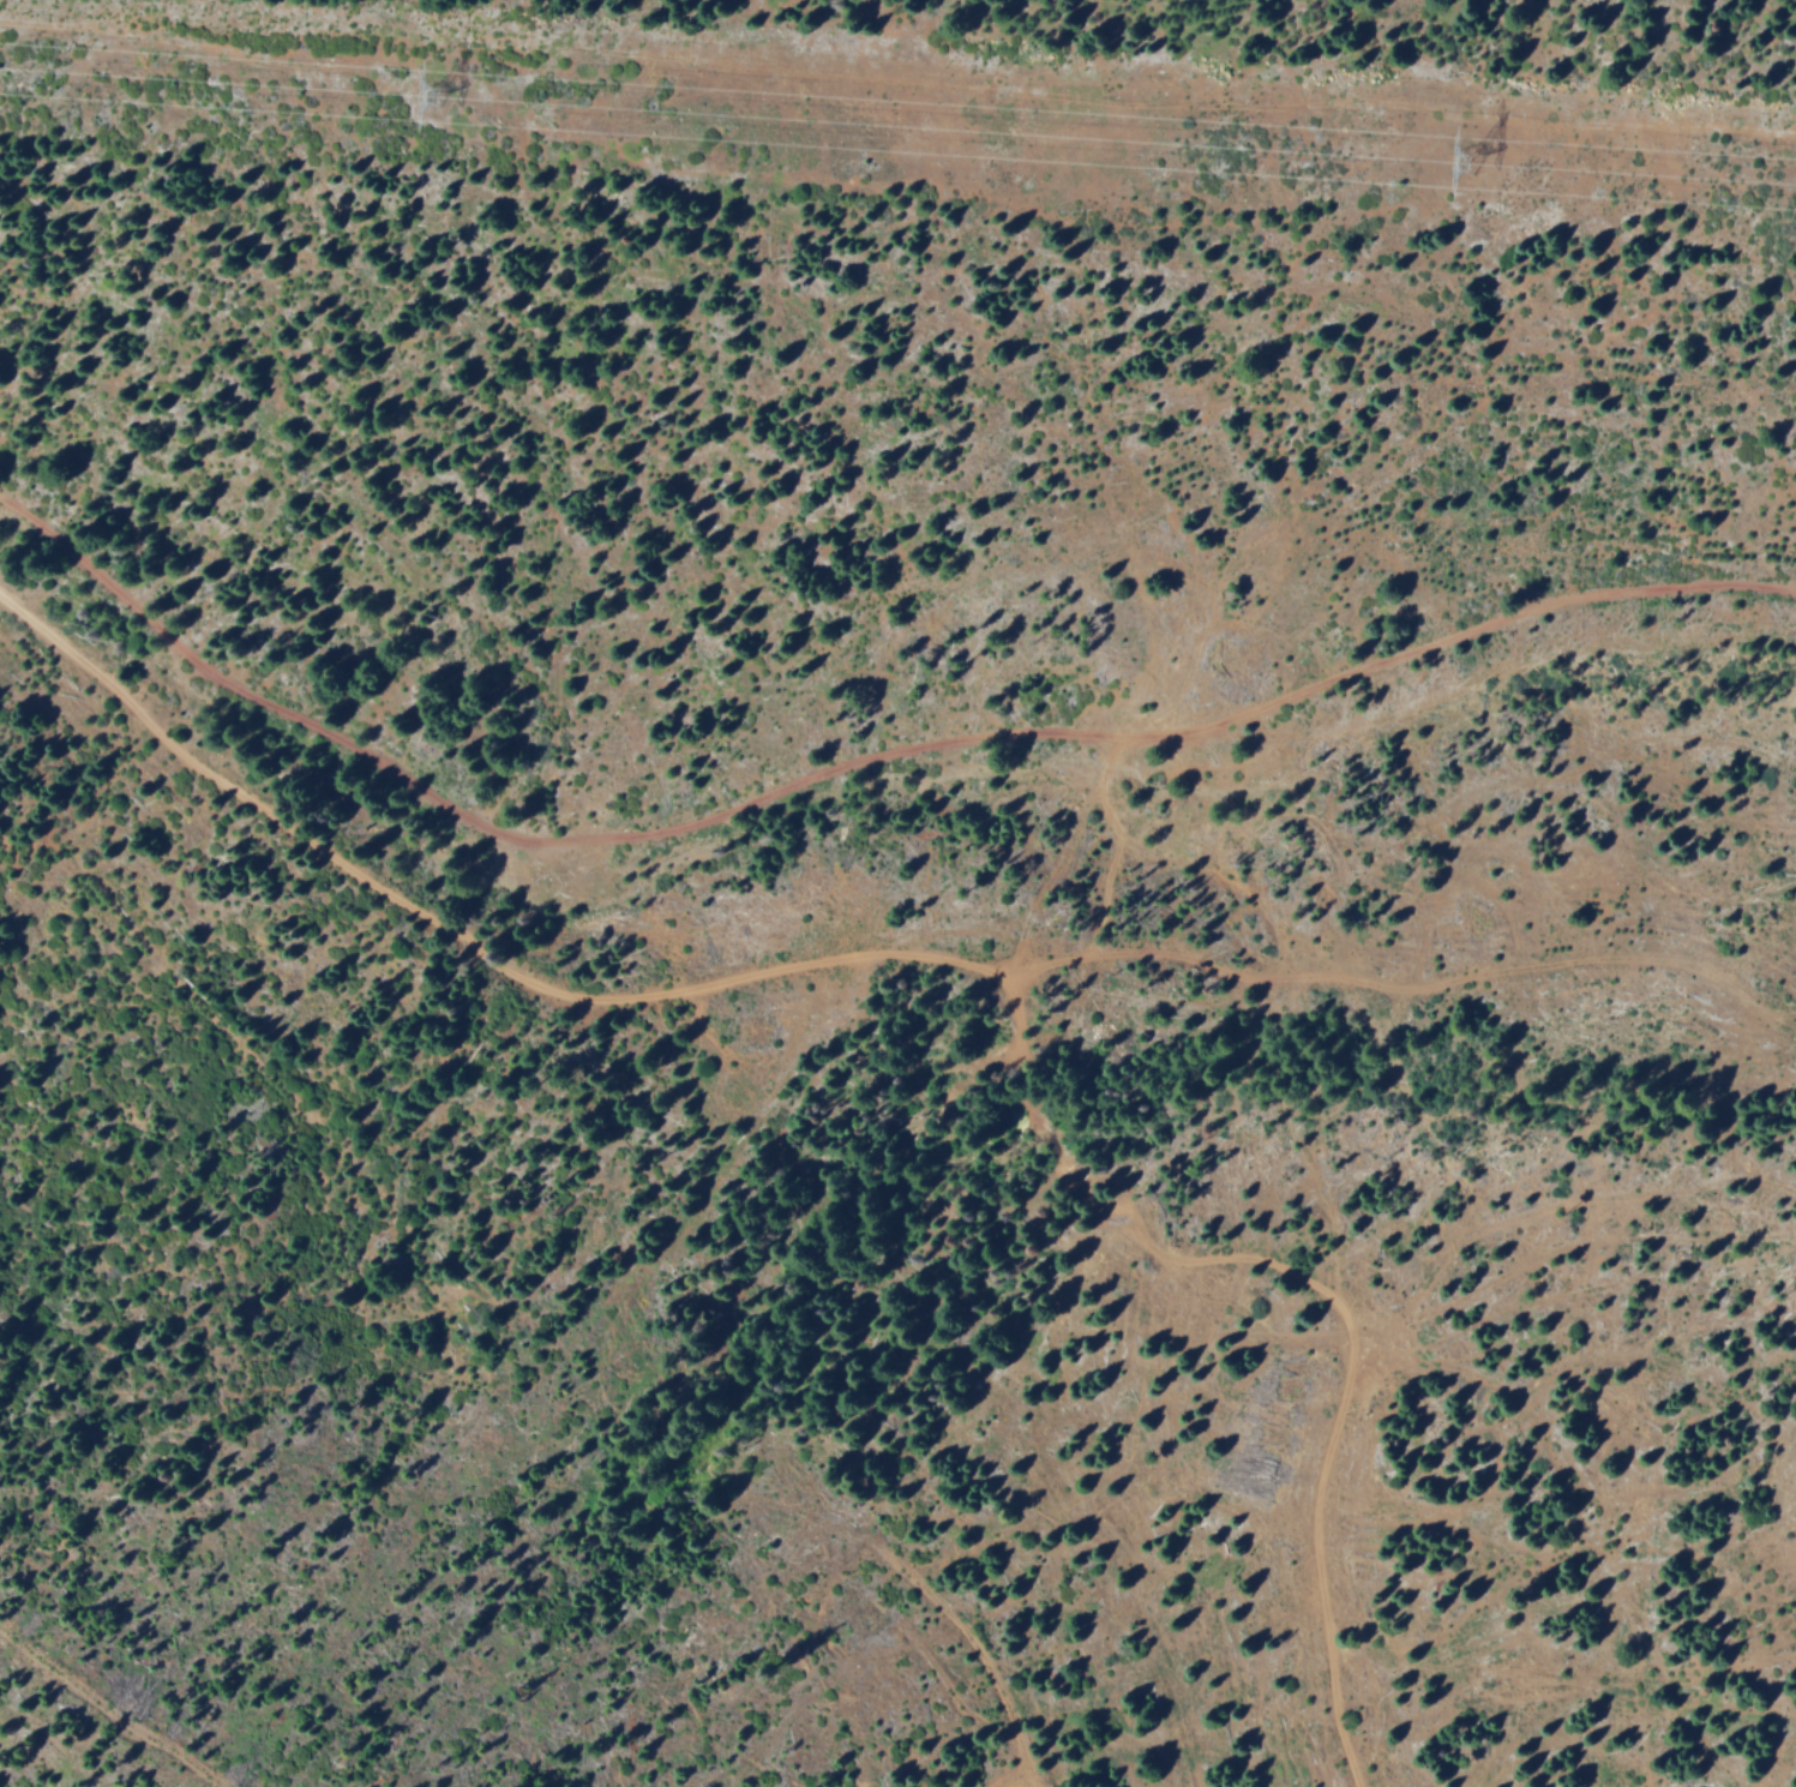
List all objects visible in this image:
power tower: (437, 94)
power tower: (1466, 161)
road: (861, 763)
road: (948, 959)
road: (1378, 981)
road: (968, 1637)

